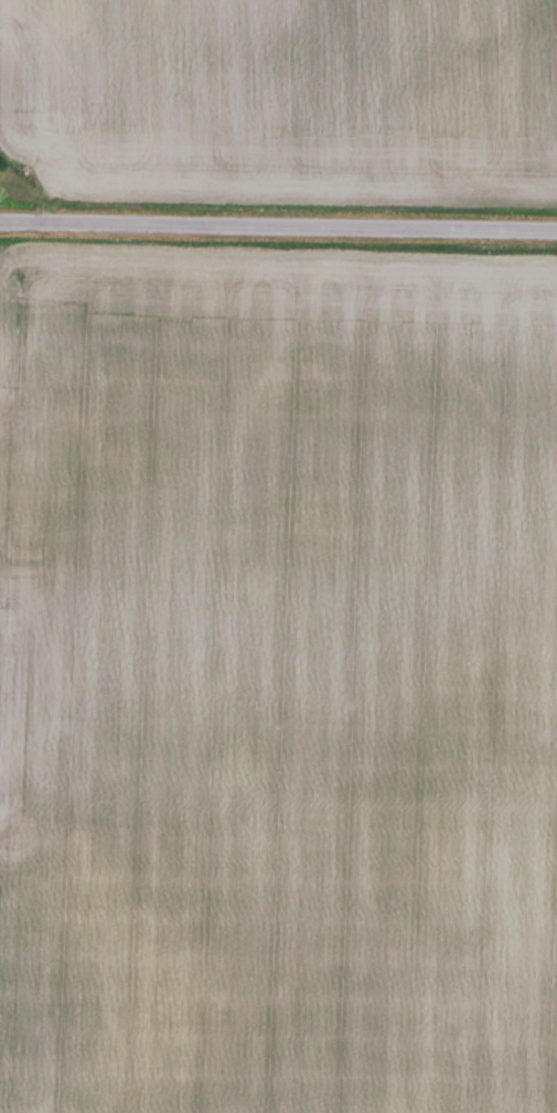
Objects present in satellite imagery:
road: (278, 221)

